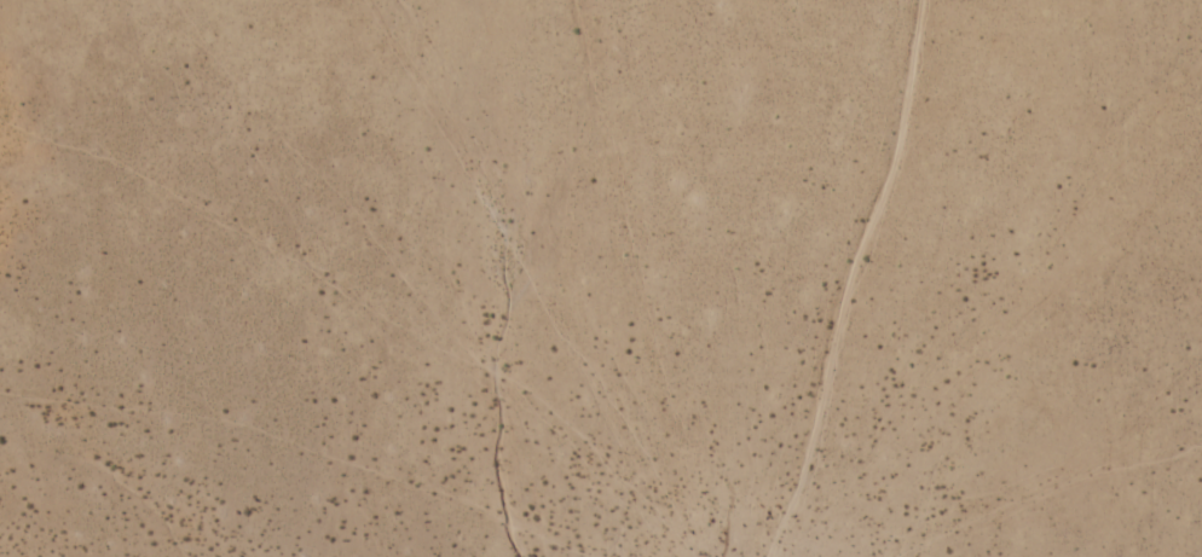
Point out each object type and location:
road: (888, 284)

